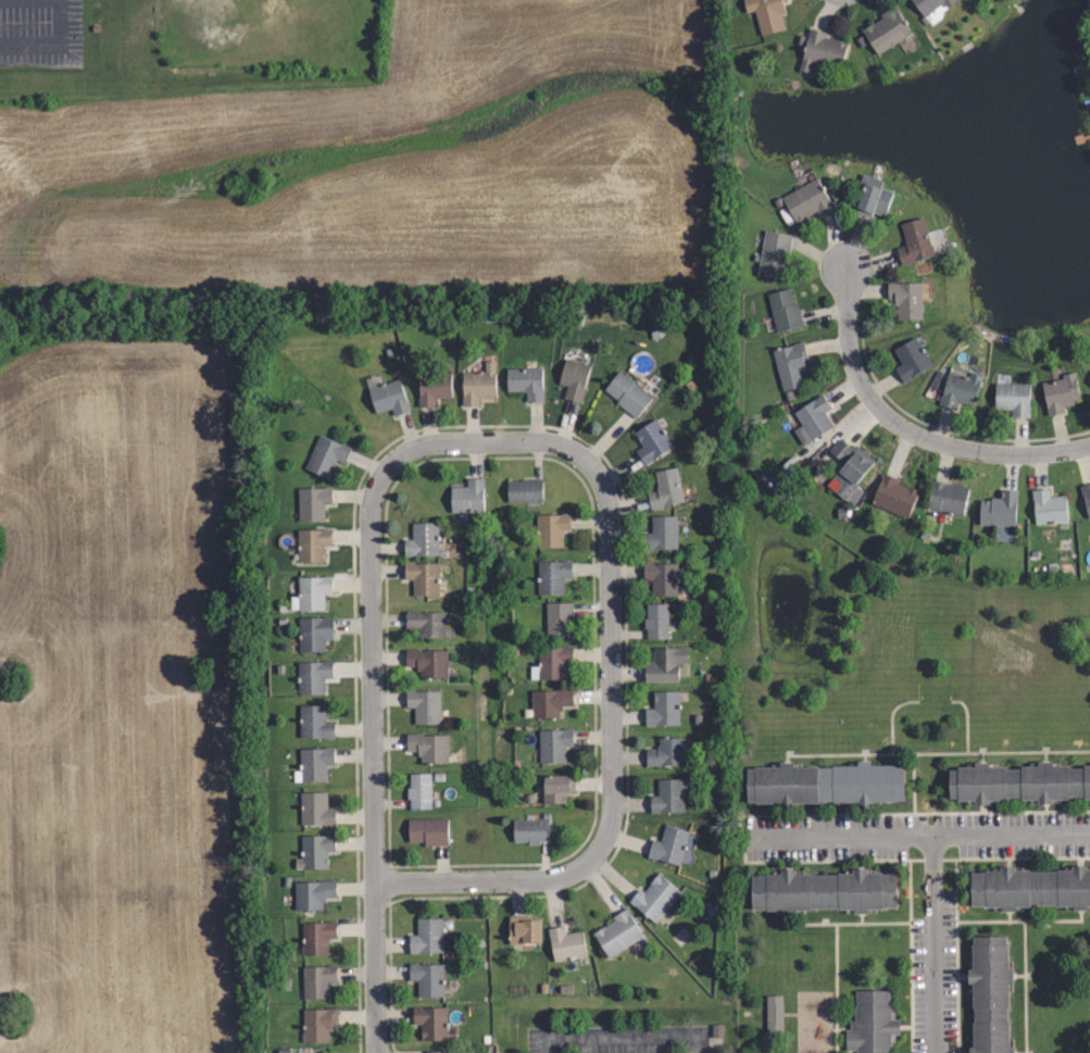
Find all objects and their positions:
building: (928, 4)
building: (767, 13)
building: (886, 29)
road: (50, 39)
building: (822, 50)
crop: (383, 166)
building: (872, 198)
building: (806, 200)
building: (913, 243)
building: (774, 255)
building: (906, 299)
building: (784, 310)
building: (911, 359)
building: (790, 364)
building: (1088, 376)
building: (574, 380)
building: (526, 381)
building: (478, 384)
building: (434, 388)
building: (960, 389)
building: (1060, 392)
building: (627, 393)
building: (389, 398)
building: (1012, 398)
building: (814, 415)
road: (907, 430)
building: (652, 441)
building: (327, 455)
building: (850, 471)
building: (666, 488)
building: (524, 490)
building: (891, 492)
building: (1087, 496)
building: (468, 497)
building: (948, 498)
building: (313, 502)
building: (1049, 507)
building: (998, 509)
building: (552, 529)
building: (661, 535)
building: (422, 541)
building: (313, 542)
building: (553, 577)
building: (423, 578)
building: (663, 578)
building: (312, 593)
building: (557, 618)
building: (656, 620)
building: (426, 626)
building: (314, 632)
building: (428, 662)
building: (550, 662)
building: (665, 665)
building: (314, 676)
road: (371, 695)
crop: (121, 701)
building: (549, 702)
building: (424, 705)
building: (664, 707)
building: (314, 722)
road: (612, 726)
building: (554, 744)
building: (428, 747)
building: (665, 754)
building: (313, 763)
building: (1018, 785)
building: (823, 786)
building: (556, 787)
building: (418, 789)
building: (668, 795)
building: (316, 810)
building: (428, 830)
building: (529, 830)
road: (915, 838)
building: (673, 847)
building: (316, 851)
building: (1031, 890)
building: (313, 893)
building: (823, 893)
building: (653, 897)
building: (524, 929)
building: (617, 931)
building: (317, 936)
building: (427, 936)
building: (565, 943)
road: (935, 945)
building: (427, 978)
building: (317, 980)
building: (991, 994)
building: (772, 1014)
building: (317, 1023)
building: (430, 1023)
building: (870, 1023)
road: (626, 1037)
building: (438, 1051)

